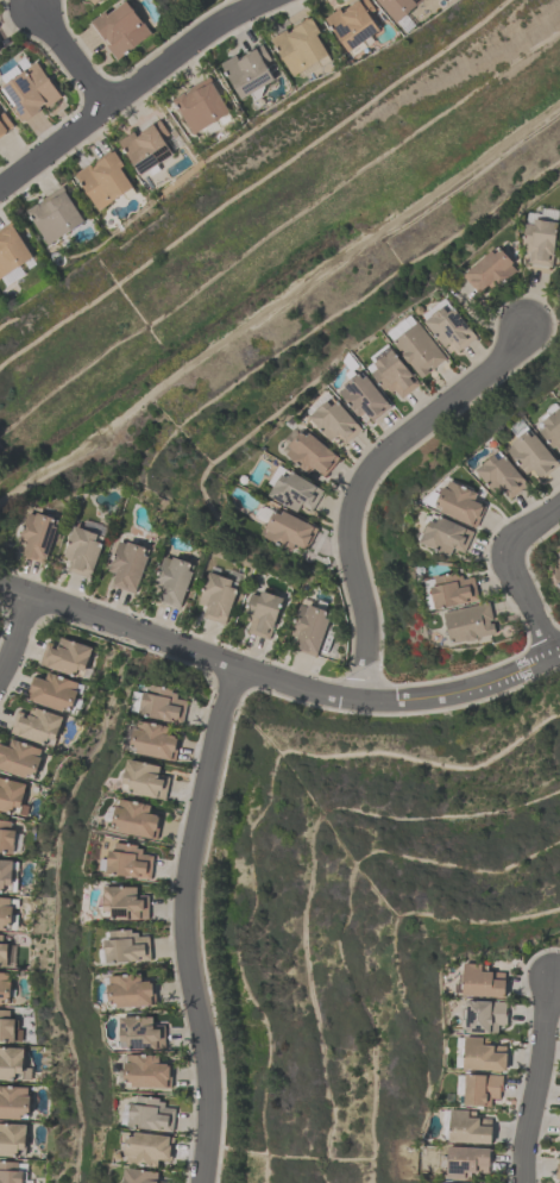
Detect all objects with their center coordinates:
building: (94, 1)
road: (272, 1)
building: (399, 7)
building: (354, 23)
building: (121, 29)
building: (301, 45)
building: (0, 54)
road: (71, 60)
building: (248, 70)
road: (137, 89)
building: (31, 90)
building: (202, 105)
building: (5, 124)
building: (147, 146)
building: (106, 179)
building: (56, 214)
building: (540, 242)
building: (12, 250)
building: (492, 270)
road: (277, 302)
building: (451, 327)
building: (420, 350)
building: (395, 374)
building: (364, 396)
building: (335, 421)
building: (553, 428)
building: (312, 452)
building: (533, 455)
building: (503, 475)
road: (364, 478)
building: (296, 492)
building: (461, 503)
building: (290, 531)
building: (39, 536)
building: (447, 536)
building: (83, 551)
building: (128, 564)
building: (559, 564)
road: (506, 571)
building: (556, 575)
building: (172, 581)
building: (454, 590)
building: (218, 597)
building: (262, 613)
building: (470, 622)
building: (309, 628)
road: (18, 640)
building: (67, 656)
road: (278, 683)
building: (52, 691)
building: (162, 703)
building: (37, 725)
building: (155, 740)
building: (19, 758)
building: (145, 780)
building: (11, 794)
building: (137, 819)
building: (6, 837)
building: (130, 860)
building: (5, 872)
building: (126, 903)
building: (5, 910)
road: (189, 926)
building: (127, 946)
building: (2, 951)
building: (483, 982)
building: (5, 985)
building: (131, 990)
building: (486, 1015)
building: (141, 1032)
building: (484, 1054)
building: (11, 1062)
building: (147, 1071)
road: (530, 1082)
building: (483, 1089)
building: (13, 1101)
building: (152, 1114)
building: (470, 1127)
building: (12, 1138)
building: (149, 1148)
building: (467, 1162)
building: (558, 1169)
building: (10, 1172)
building: (141, 1176)

